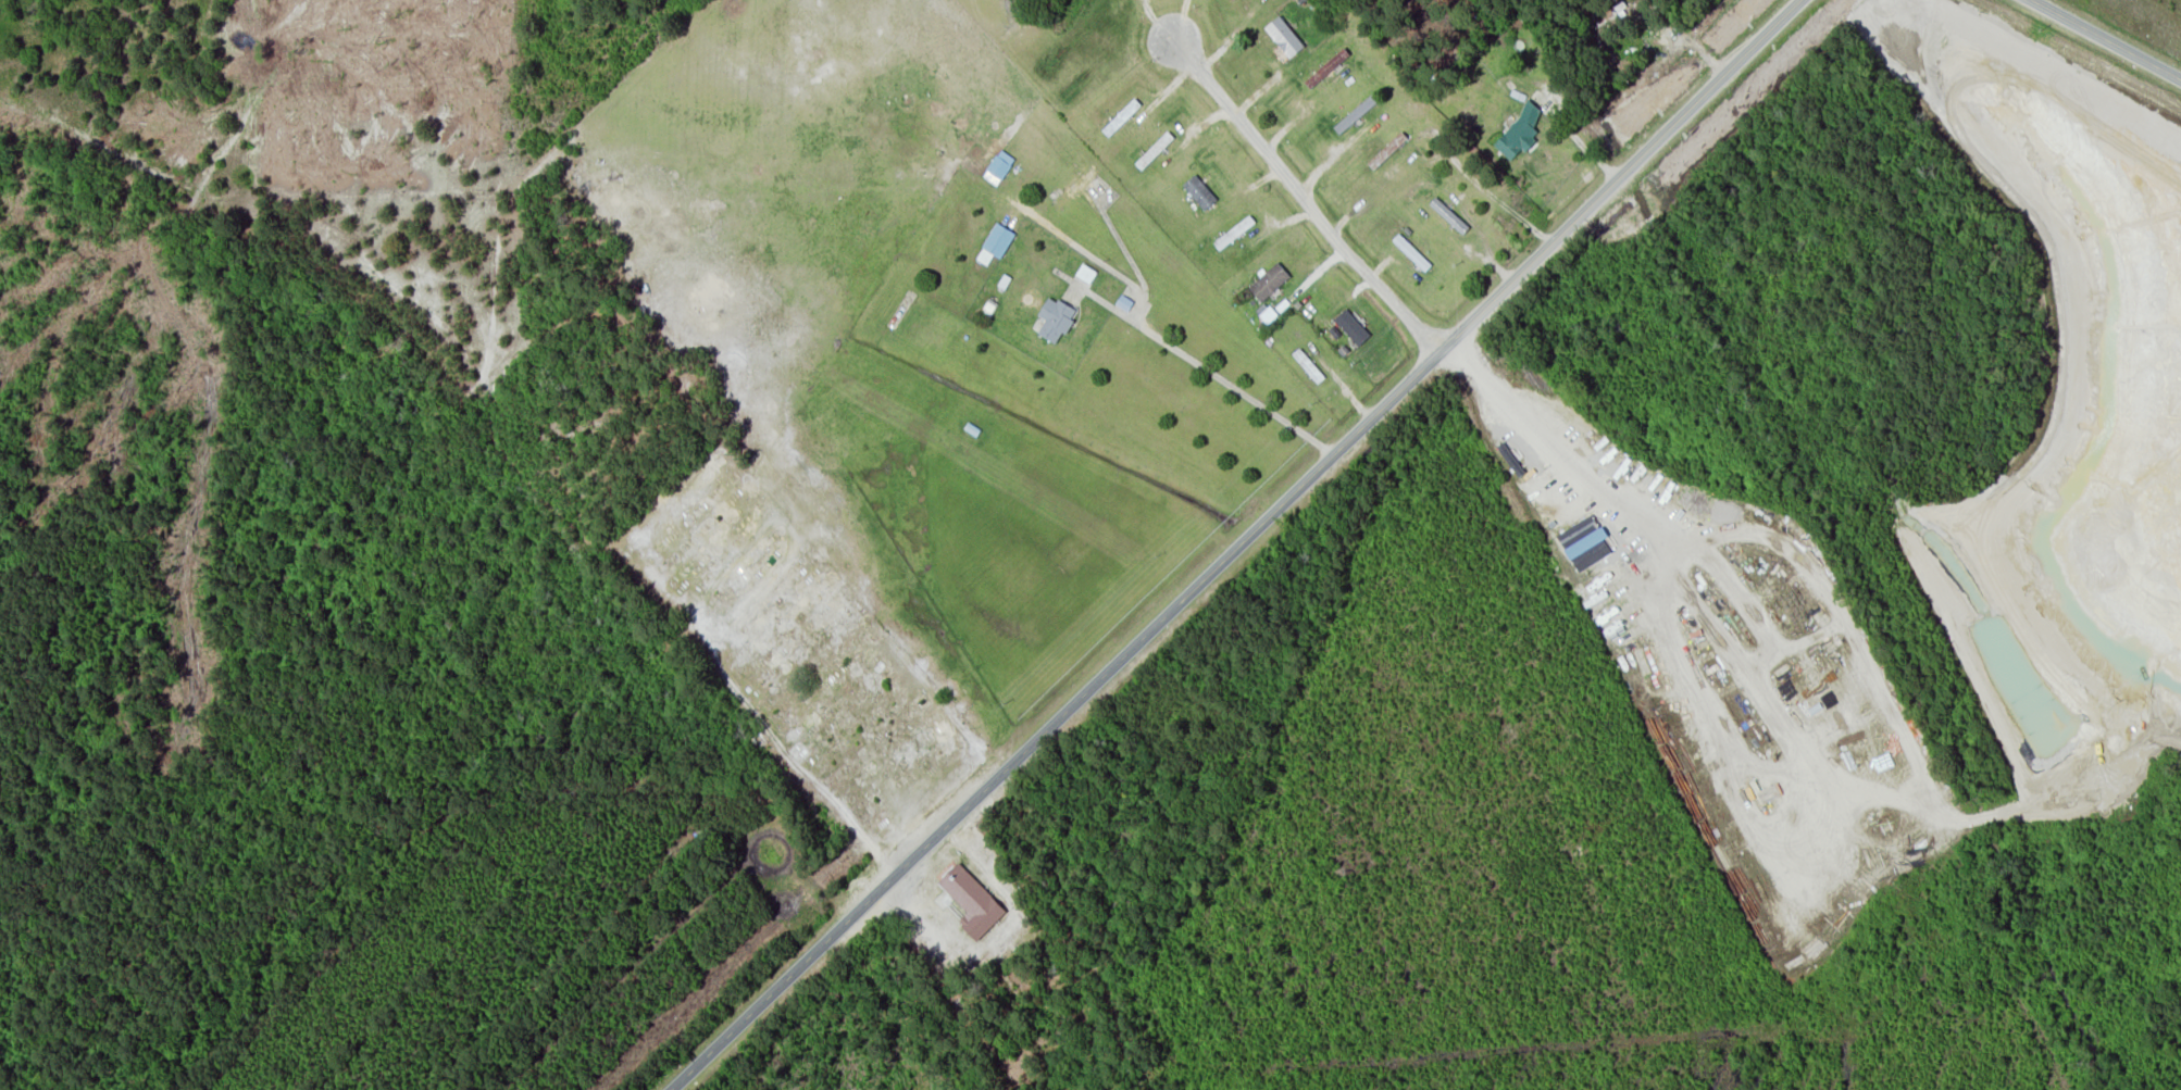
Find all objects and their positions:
road: (1778, 22)
building: (1283, 35)
road: (2107, 38)
building: (1355, 113)
building: (1518, 131)
building: (998, 166)
road: (1606, 189)
road: (1304, 197)
building: (1448, 214)
building: (1268, 280)
building: (1055, 317)
building: (1350, 326)
road: (1448, 342)
road: (1230, 384)
road: (1567, 439)
road: (1056, 719)
building: (971, 900)

